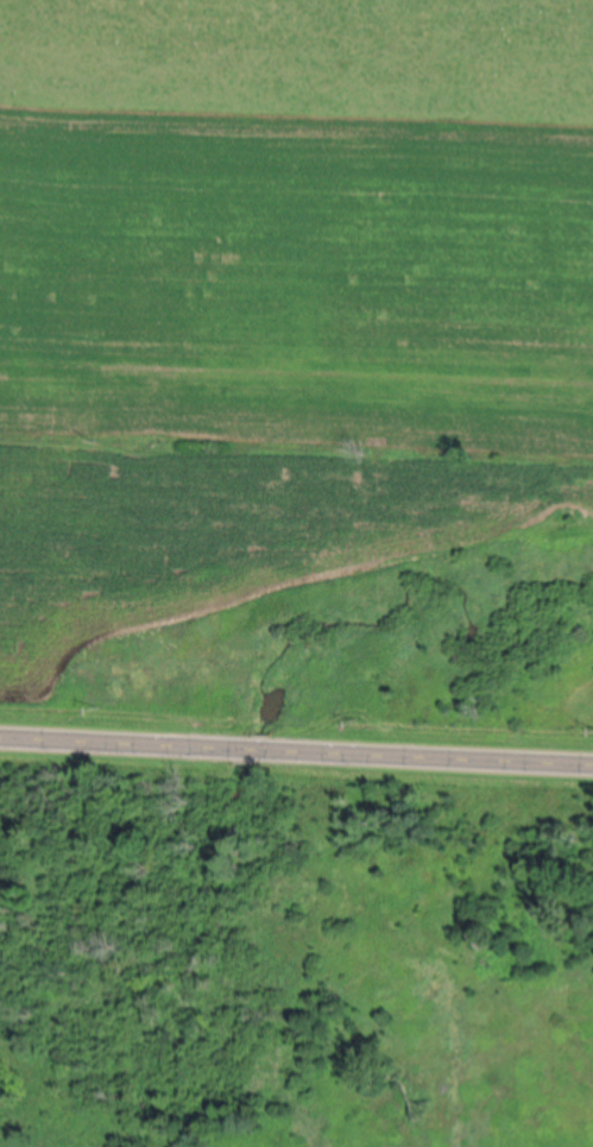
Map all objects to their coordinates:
road: (296, 725)

